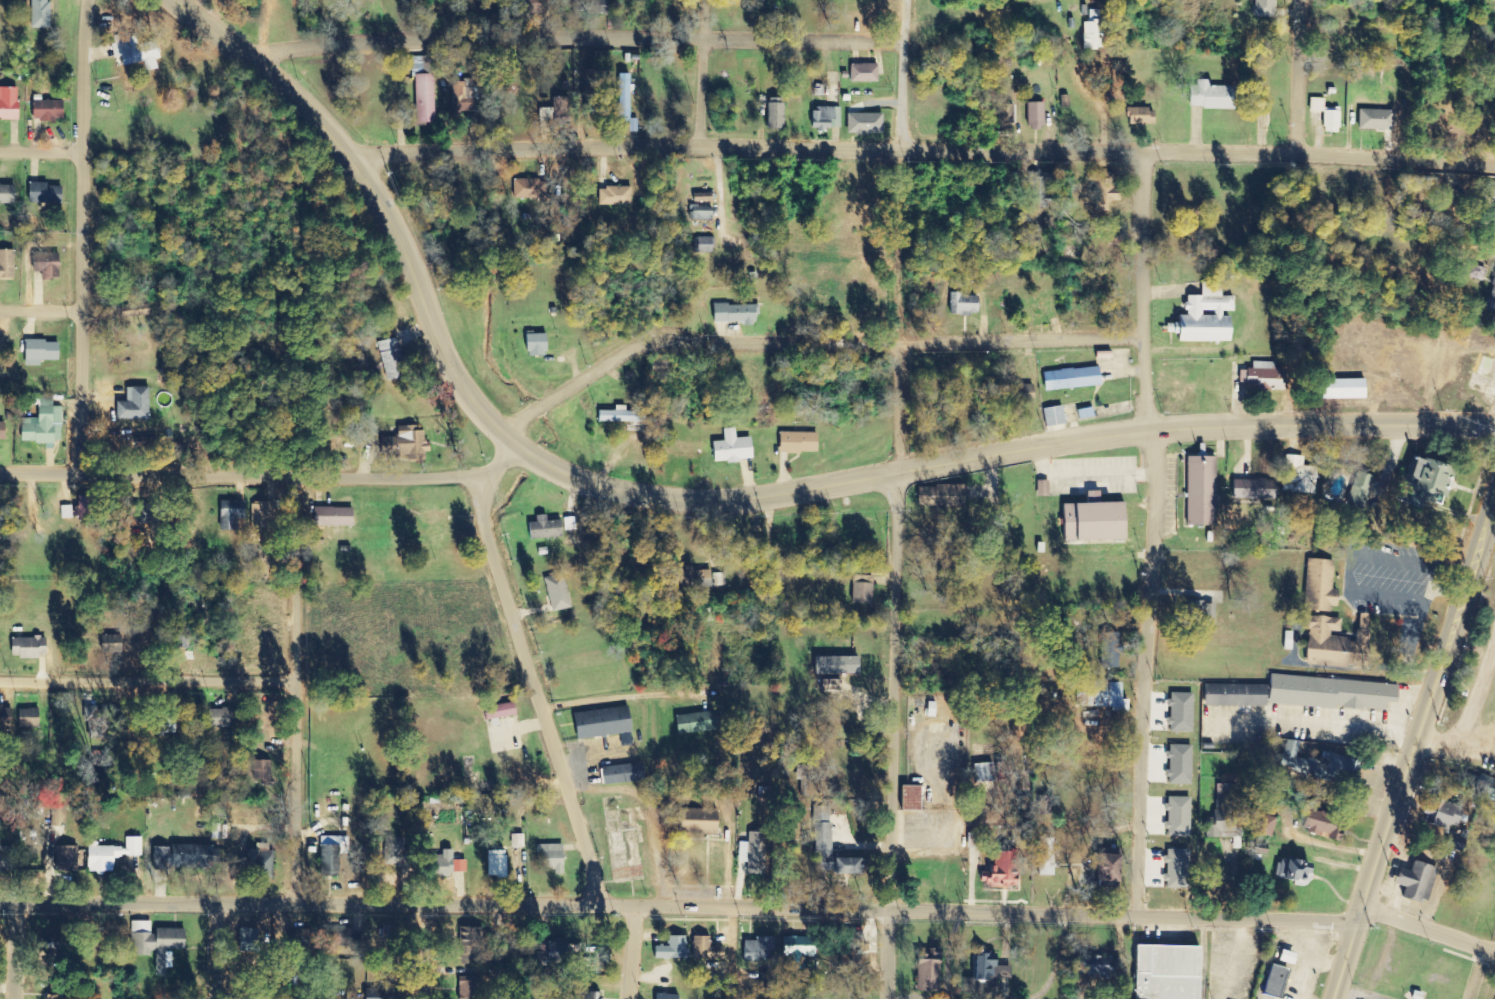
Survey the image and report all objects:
building: (1262, 8)
building: (42, 14)
building: (1090, 32)
road: (581, 45)
building: (137, 52)
building: (860, 72)
road: (701, 74)
road: (1297, 79)
building: (426, 90)
building: (1208, 96)
building: (591, 99)
building: (470, 100)
building: (627, 102)
building: (10, 104)
building: (49, 111)
building: (558, 112)
building: (1002, 114)
building: (773, 115)
building: (1323, 115)
building: (1033, 116)
building: (1139, 116)
building: (824, 117)
building: (1374, 119)
building: (861, 123)
road: (42, 148)
road: (926, 156)
building: (530, 189)
building: (1037, 189)
building: (40, 193)
building: (1488, 193)
building: (8, 195)
building: (617, 197)
building: (700, 197)
road: (373, 199)
building: (698, 213)
building: (1493, 220)
road: (82, 237)
building: (702, 245)
building: (7, 265)
building: (49, 266)
road: (40, 299)
building: (1491, 299)
building: (963, 304)
building: (733, 313)
building: (1202, 315)
road: (826, 338)
building: (533, 344)
building: (43, 353)
building: (392, 360)
building: (1255, 376)
building: (1069, 379)
building: (1340, 389)
building: (136, 406)
building: (1083, 413)
building: (622, 416)
building: (1052, 416)
building: (44, 424)
building: (4, 431)
road: (525, 432)
building: (795, 442)
building: (145, 444)
building: (409, 444)
building: (728, 448)
road: (1001, 449)
road: (264, 475)
building: (1295, 475)
building: (1417, 482)
building: (1250, 484)
building: (1358, 490)
building: (1198, 491)
building: (938, 495)
road: (896, 499)
building: (88, 509)
building: (68, 512)
building: (234, 516)
building: (264, 517)
building: (2, 518)
building: (336, 518)
building: (1089, 519)
building: (542, 528)
road: (1153, 536)
building: (695, 579)
building: (718, 580)
building: (1317, 586)
building: (859, 589)
building: (554, 593)
building: (1195, 609)
building: (181, 638)
building: (1331, 643)
building: (32, 647)
building: (1108, 651)
building: (833, 665)
road: (147, 681)
building: (829, 685)
road: (295, 693)
building: (1327, 693)
road: (537, 695)
building: (1095, 695)
building: (1231, 695)
building: (928, 709)
building: (496, 712)
building: (1178, 712)
building: (31, 718)
building: (225, 718)
building: (98, 722)
building: (599, 723)
building: (692, 723)
building: (170, 728)
road: (1415, 745)
building: (1177, 764)
building: (1312, 764)
building: (263, 770)
building: (980, 773)
building: (620, 774)
building: (801, 776)
building: (1484, 789)
building: (1221, 791)
building: (907, 798)
building: (1042, 805)
building: (1440, 815)
building: (1175, 817)
building: (695, 821)
building: (1222, 826)
building: (1260, 826)
building: (1317, 826)
building: (514, 841)
building: (1453, 844)
building: (825, 846)
building: (333, 854)
building: (114, 855)
building: (749, 856)
building: (186, 857)
building: (549, 857)
building: (1042, 857)
building: (68, 859)
building: (262, 860)
building: (7, 861)
building: (444, 863)
building: (494, 864)
building: (1105, 869)
building: (1174, 869)
building: (1288, 870)
building: (1000, 871)
building: (1413, 882)
road: (750, 914)
building: (389, 934)
building: (56, 937)
building: (252, 940)
building: (159, 944)
road: (1, 945)
building: (468, 946)
building: (669, 949)
building: (703, 949)
building: (755, 949)
building: (793, 951)
building: (559, 952)
road: (203, 955)
road: (418, 956)
road: (618, 956)
building: (1087, 965)
building: (984, 970)
building: (1161, 972)
building: (923, 974)
building: (1271, 981)
building: (466, 990)
building: (60, 991)
building: (582, 995)
building: (664, 997)

